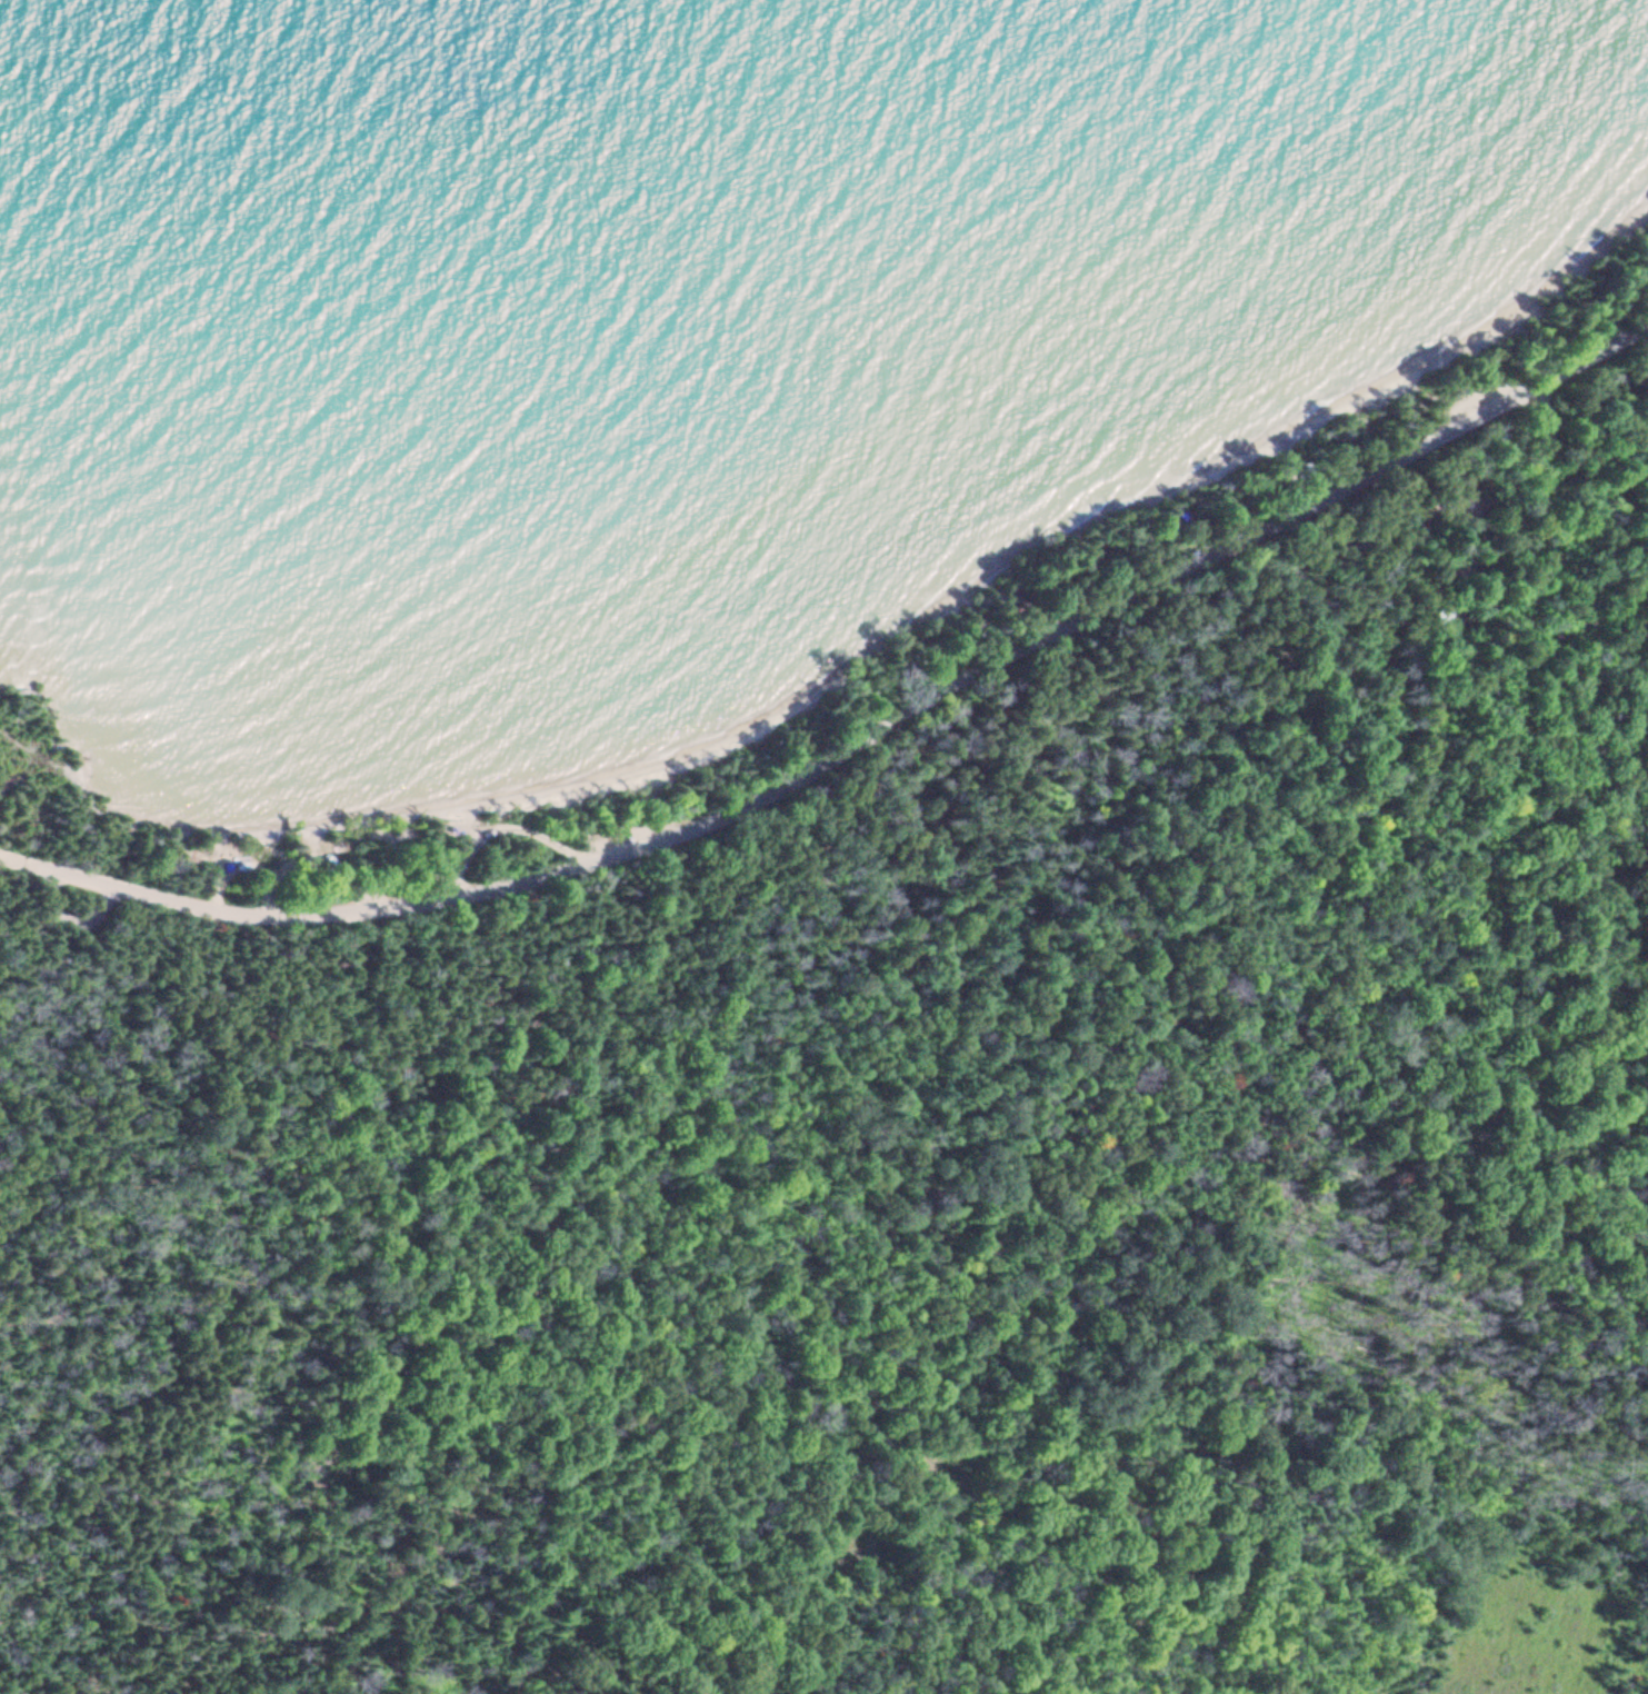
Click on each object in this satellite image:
road: (1469, 570)
road: (881, 730)
road: (27, 865)
park: (885, 1106)
road: (872, 1327)
road: (222, 1496)

